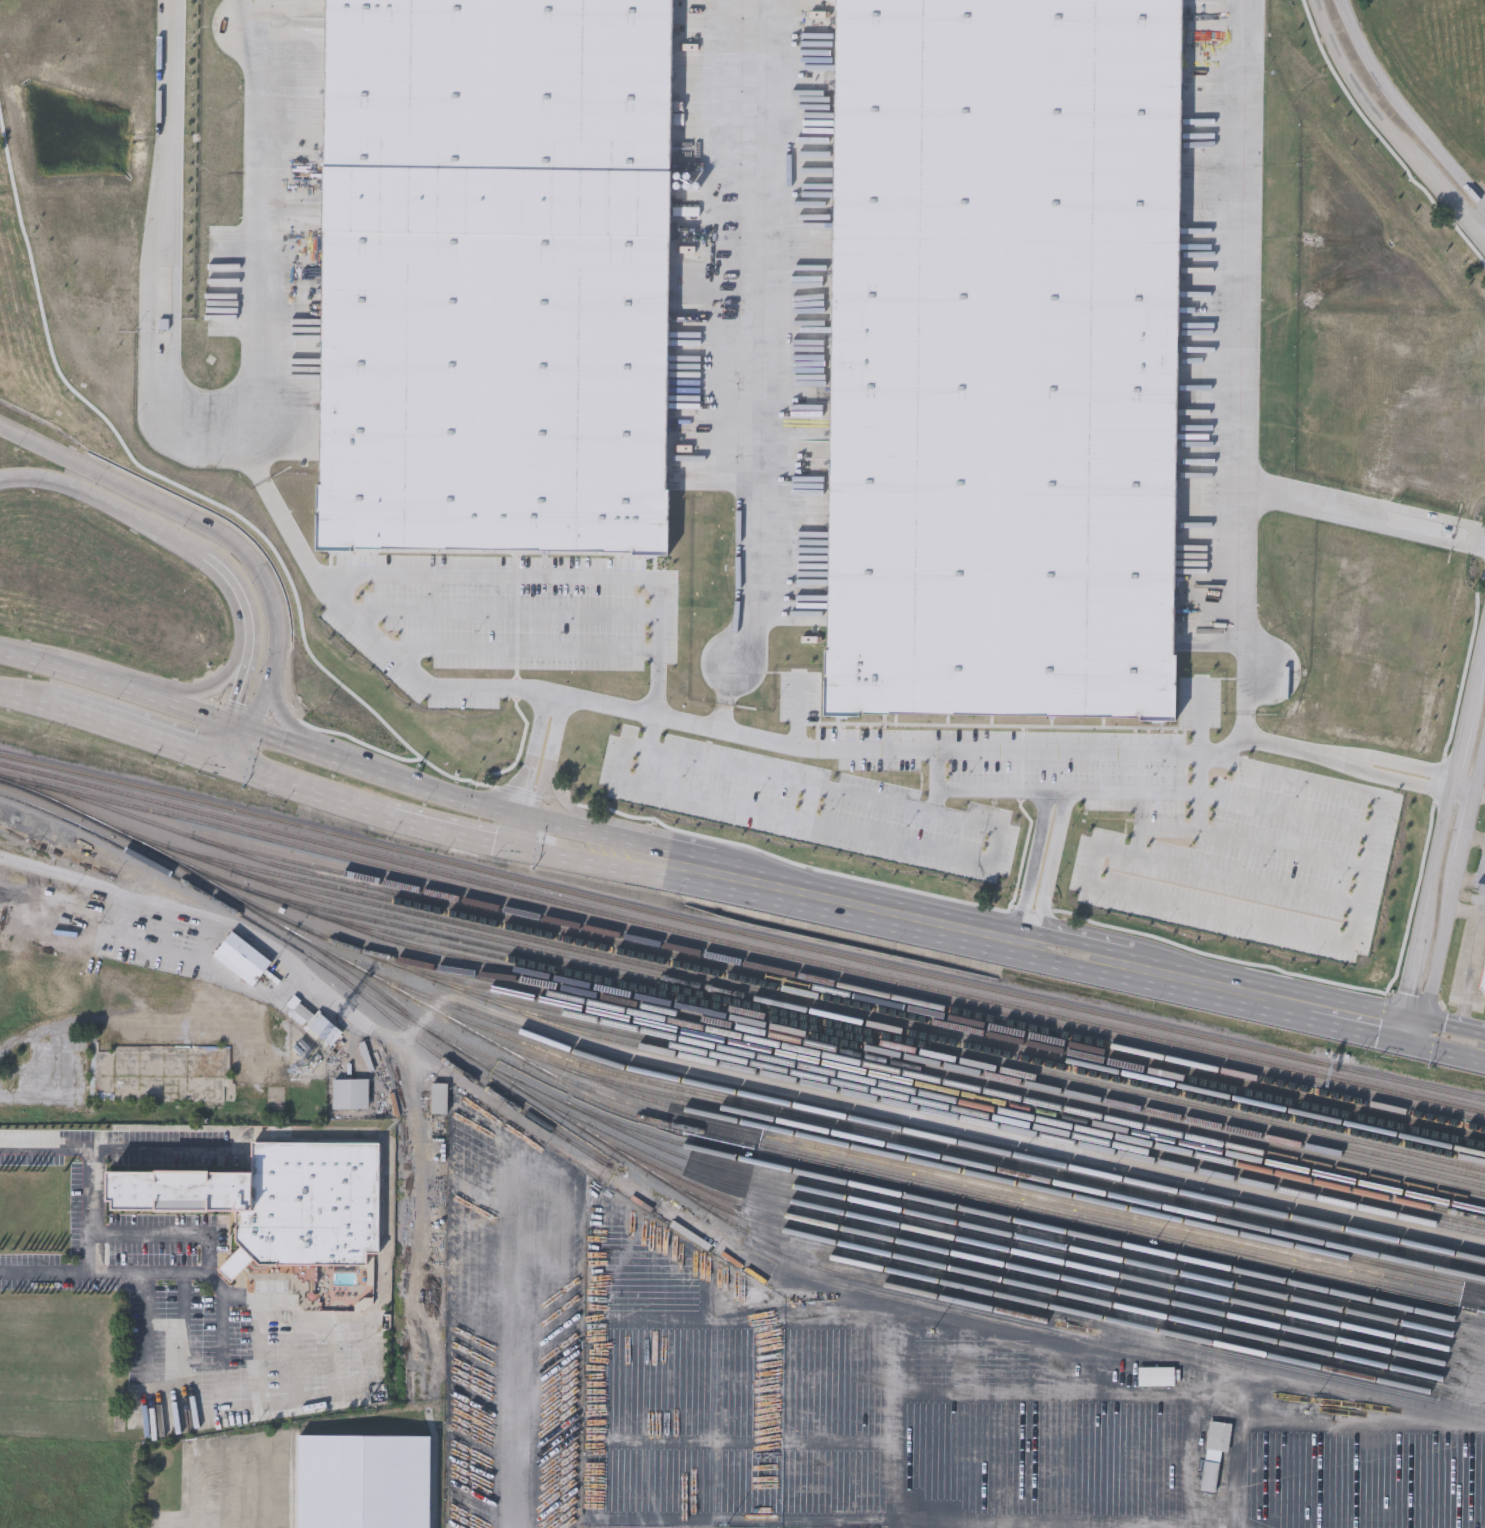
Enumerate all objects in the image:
building: (1206, 22)
road: (1359, 90)
road: (1404, 107)
road: (1452, 203)
road: (1483, 237)
road: (1483, 240)
road: (164, 252)
building: (496, 276)
building: (1004, 357)
road: (759, 366)
building: (799, 405)
road: (54, 445)
road: (110, 494)
road: (1301, 499)
road: (1362, 510)
road: (1484, 543)
road: (237, 551)
road: (509, 575)
road: (240, 595)
road: (554, 615)
road: (527, 651)
road: (1476, 682)
road: (243, 683)
road: (116, 684)
road: (210, 684)
traffic signals: (241, 690)
road: (25, 701)
road: (265, 710)
road: (285, 722)
road: (245, 726)
road: (553, 726)
road: (134, 733)
road: (656, 733)
traffic signals: (276, 738)
road: (224, 740)
road: (1298, 747)
road: (820, 749)
road: (252, 750)
traffic signals: (189, 751)
road: (1461, 753)
road: (528, 761)
road: (1407, 762)
road: (232, 764)
road: (1480, 770)
road: (1401, 780)
road: (1465, 788)
road: (539, 789)
road: (1480, 791)
road: (1047, 792)
road: (442, 793)
road: (1198, 794)
road: (694, 798)
traffic signals: (473, 802)
road: (810, 805)
road: (1286, 815)
traffic signals: (533, 817)
road: (1468, 824)
road: (434, 828)
road: (657, 831)
road: (529, 834)
railway: (187, 835)
building: (1391, 835)
road: (1475, 838)
road: (1241, 841)
traffic signals: (525, 851)
railway: (160, 852)
road: (1437, 855)
railway: (144, 858)
road: (660, 860)
road: (1029, 866)
railway: (225, 868)
road: (1049, 869)
road: (1206, 873)
railway: (238, 887)
building: (1337, 898)
road: (838, 900)
building: (83, 907)
road: (177, 908)
railway: (263, 909)
building: (82, 912)
road: (1353, 922)
railway: (741, 933)
road: (1007, 939)
railway: (740, 945)
road: (1441, 945)
railway: (297, 947)
railway: (741, 953)
building: (241, 956)
road: (1475, 961)
railway: (482, 973)
road: (1409, 977)
road: (1186, 980)
building: (1482, 981)
railway: (848, 987)
railway: (368, 991)
railway: (834, 999)
railway: (905, 1008)
railway: (863, 1014)
railway: (391, 1017)
building: (317, 1020)
road: (1381, 1024)
traffic signals: (1398, 1028)
railway: (872, 1033)
traffic signals: (1423, 1033)
railway: (919, 1036)
railway: (441, 1037)
road: (1454, 1040)
railway: (897, 1046)
railway: (896, 1054)
building: (160, 1071)
railway: (922, 1077)
railway: (1003, 1087)
railway: (946, 1089)
building: (350, 1091)
building: (439, 1096)
railway: (890, 1101)
railway: (973, 1103)
railway: (998, 1116)
railway: (538, 1121)
railway: (584, 1121)
railway: (890, 1127)
railway: (953, 1151)
railway: (662, 1170)
railway: (900, 1175)
railway: (981, 1176)
railway: (1035, 1179)
railway: (1010, 1192)
building: (280, 1201)
road: (393, 1220)
railway: (1032, 1224)
road: (131, 1231)
railway: (1030, 1238)
road: (94, 1252)
railway: (1058, 1261)
railway: (958, 1285)
railway: (1101, 1287)
railway: (899, 1289)
building: (723, 1290)
railway: (1073, 1296)
road: (1002, 1331)
road: (531, 1352)
building: (1156, 1375)
road: (1362, 1395)
road: (225, 1406)
building: (1215, 1452)
building: (159, 1456)
building: (364, 1481)

